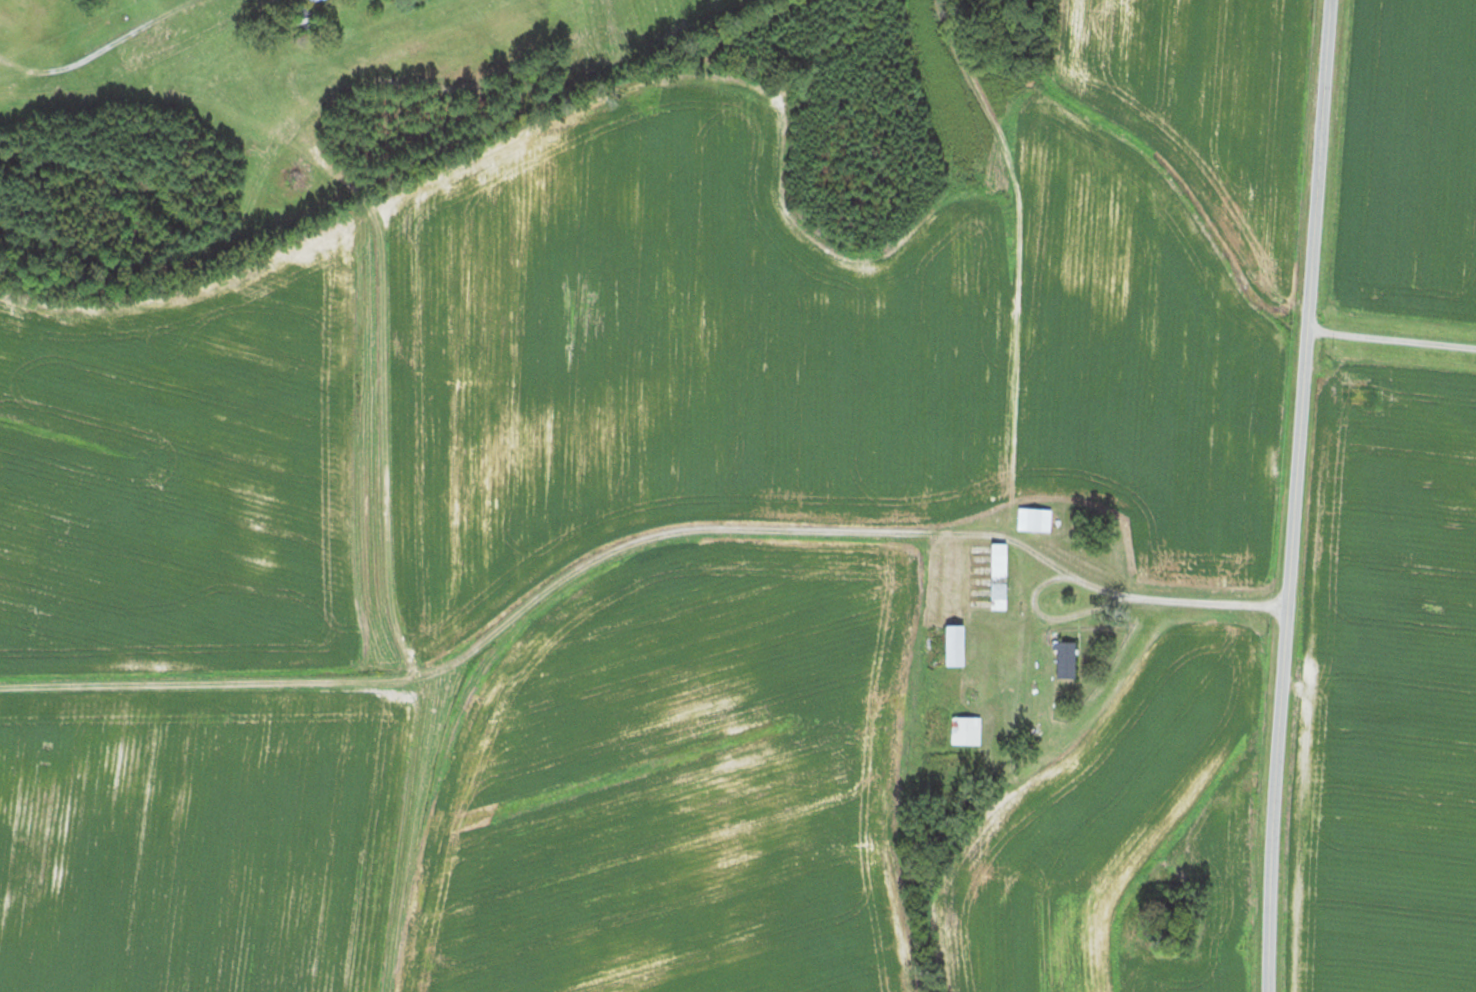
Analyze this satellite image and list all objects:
road: (1300, 495)
building: (1036, 518)
building: (1001, 575)
building: (1066, 658)
building: (967, 728)

